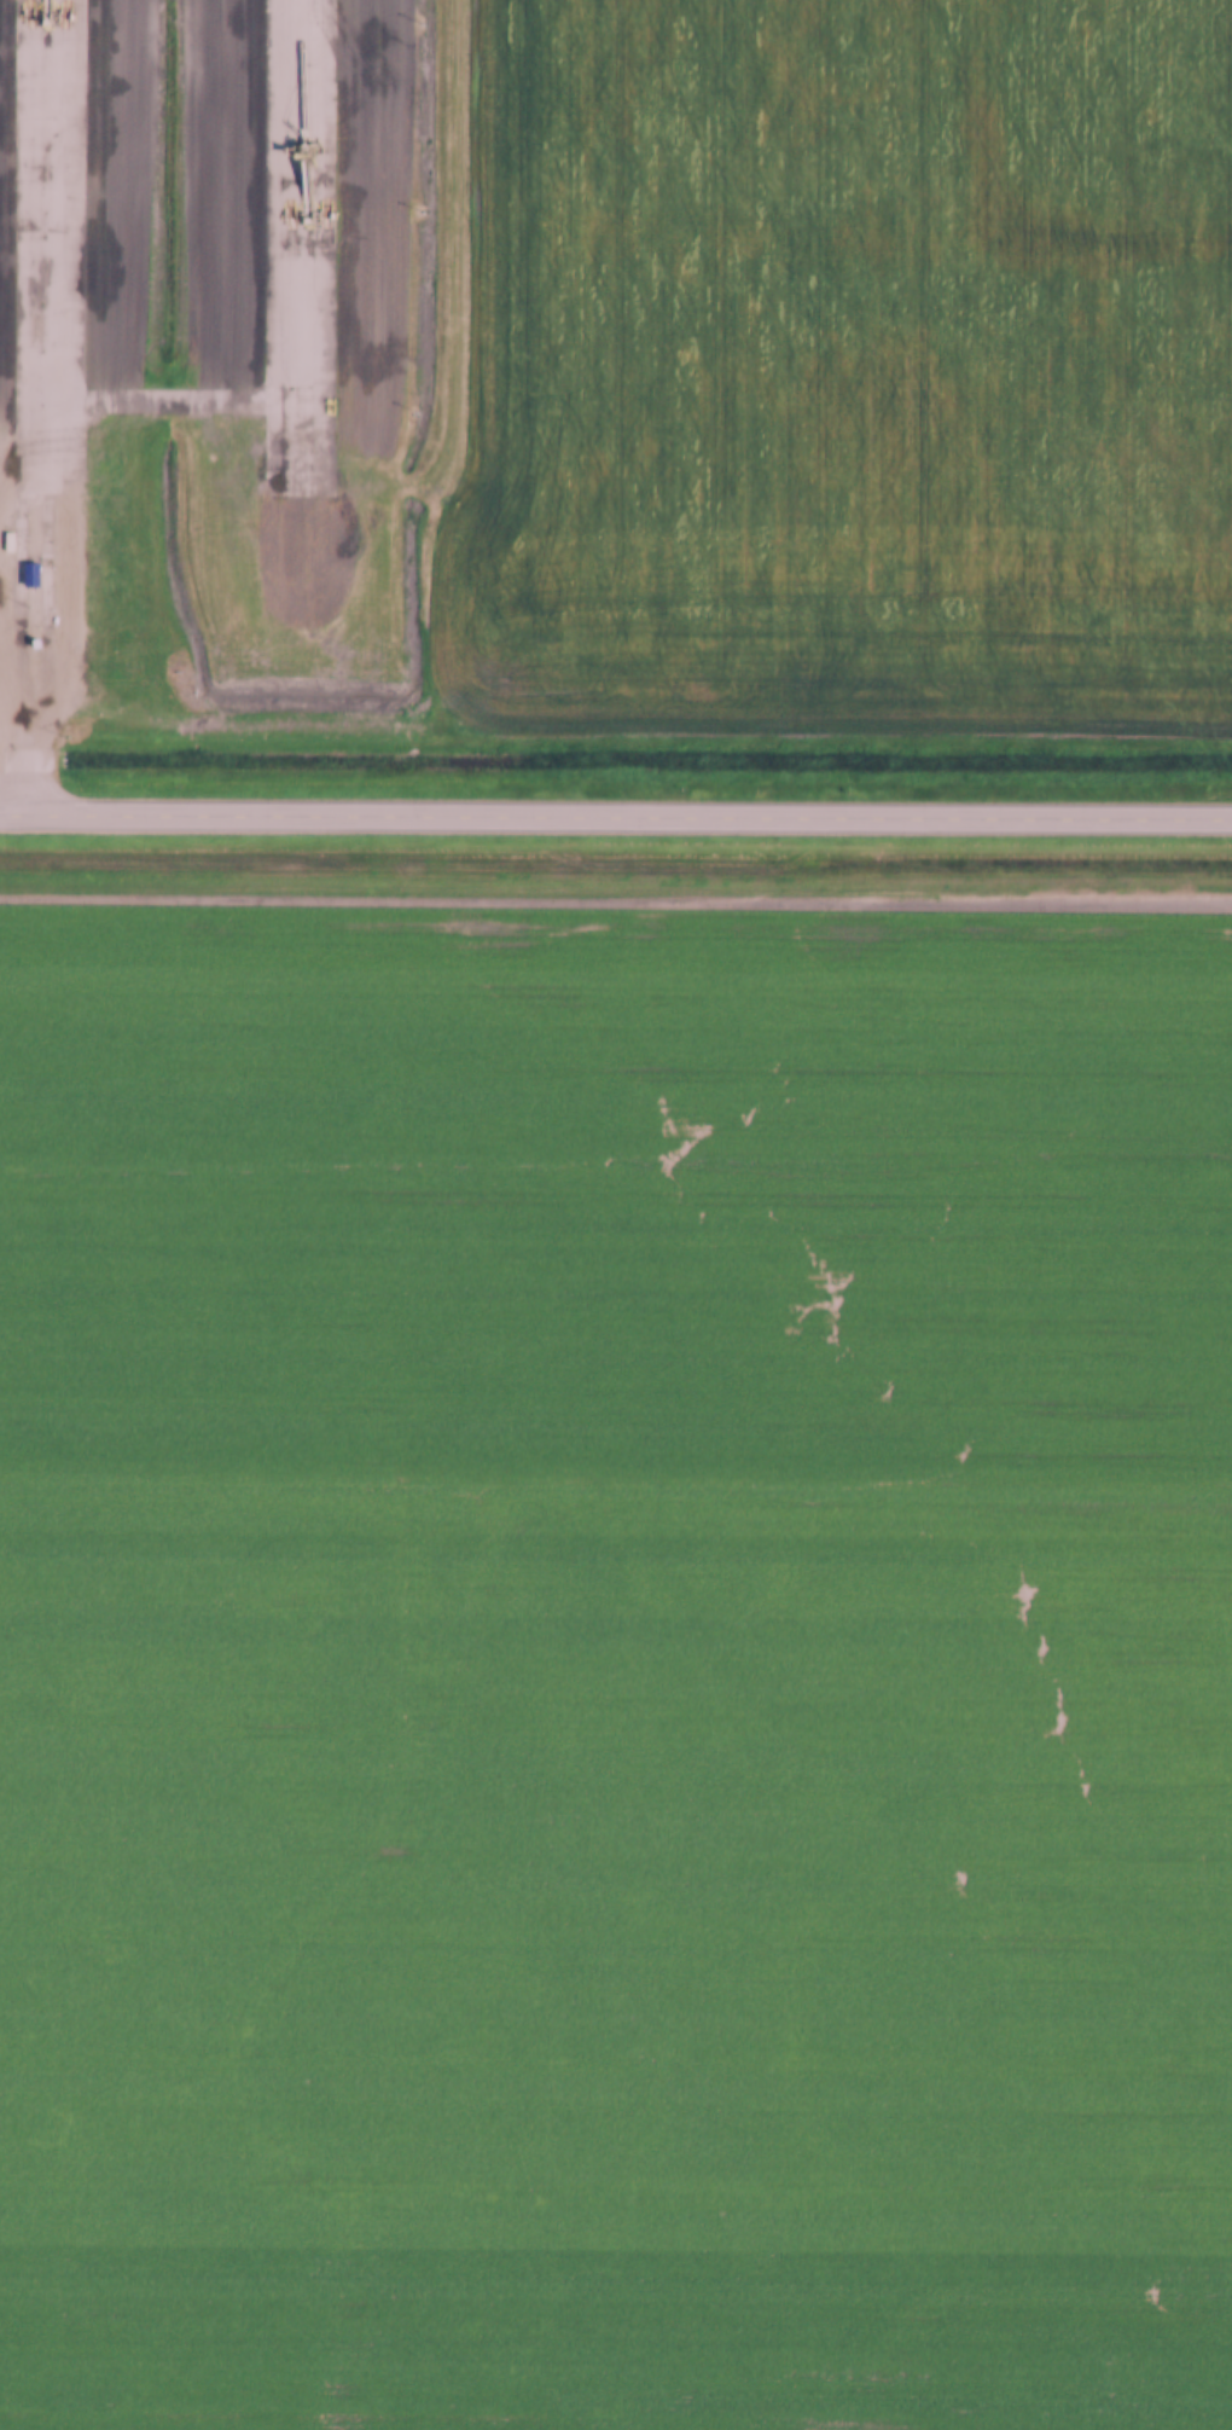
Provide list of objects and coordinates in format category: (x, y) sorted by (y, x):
building: (36, 575)
road: (616, 820)

